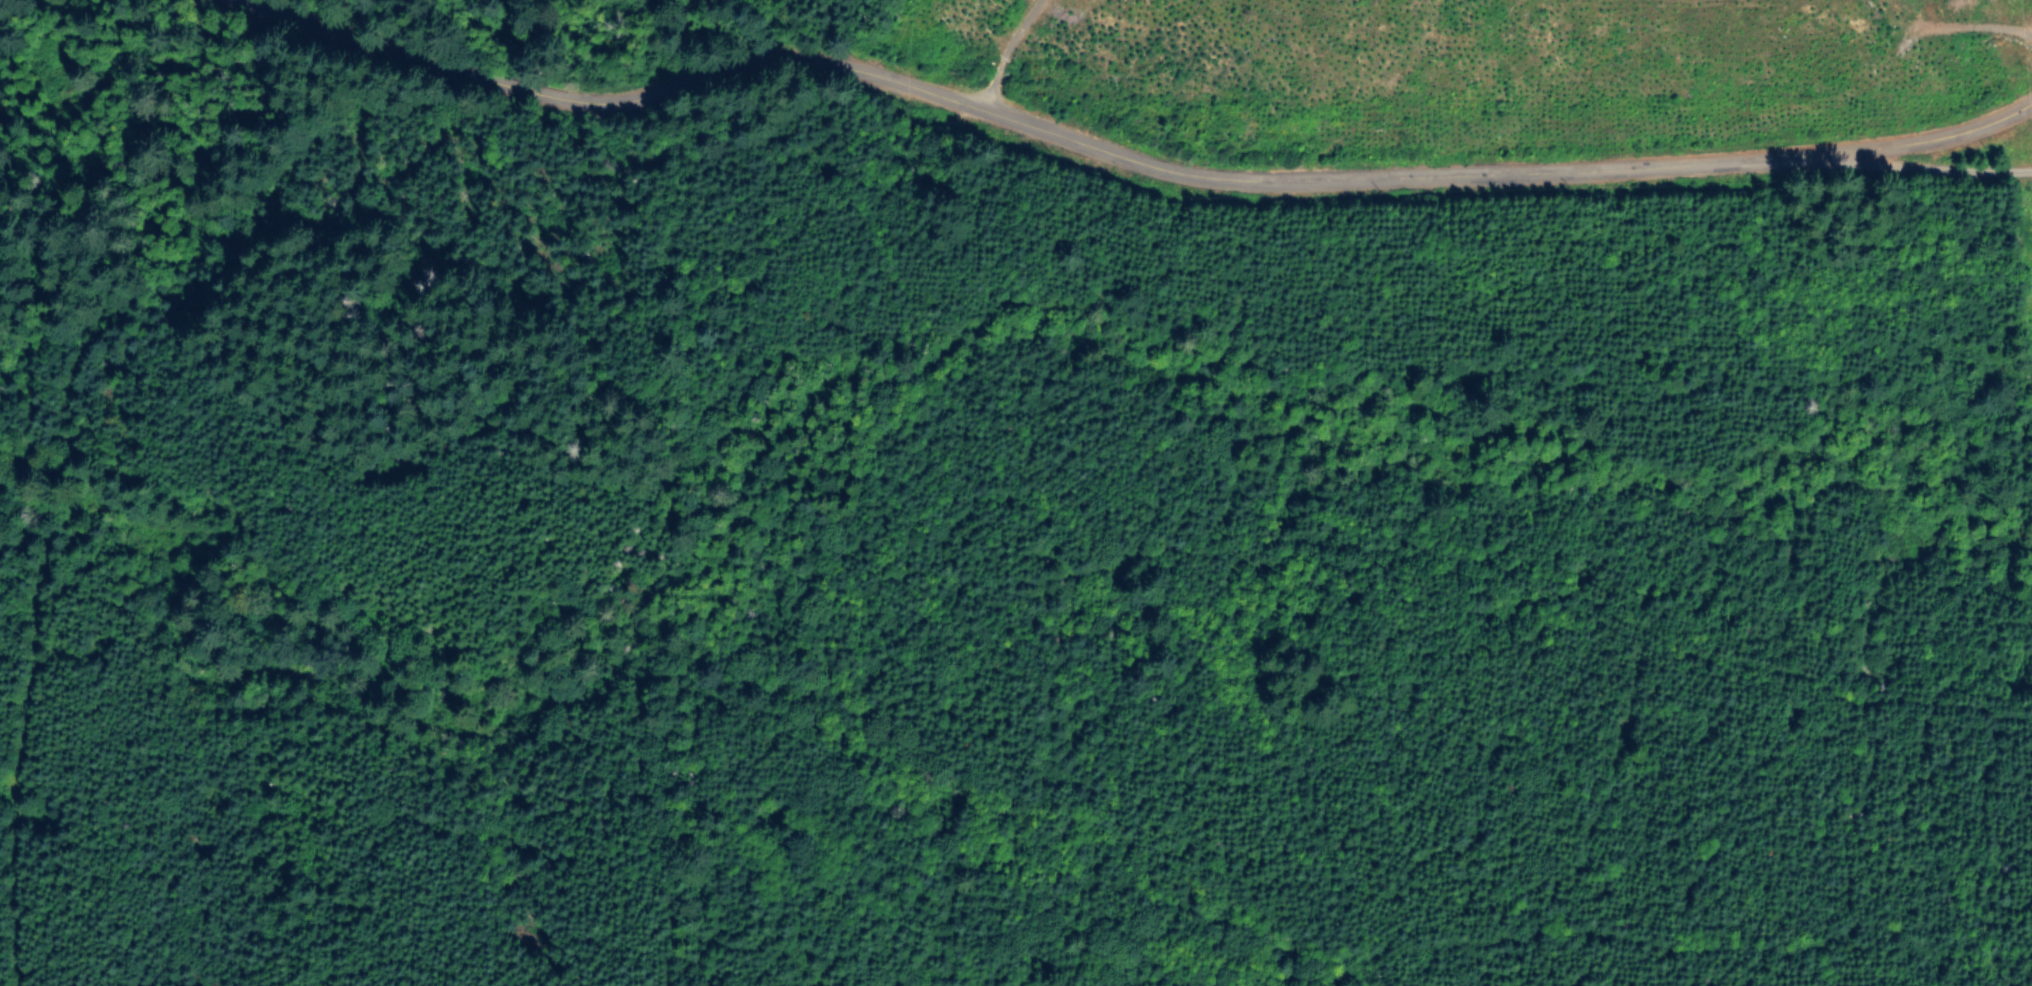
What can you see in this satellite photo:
road: (41, 25)
road: (5, 37)
road: (1010, 53)
road: (1115, 135)
road: (1980, 150)

